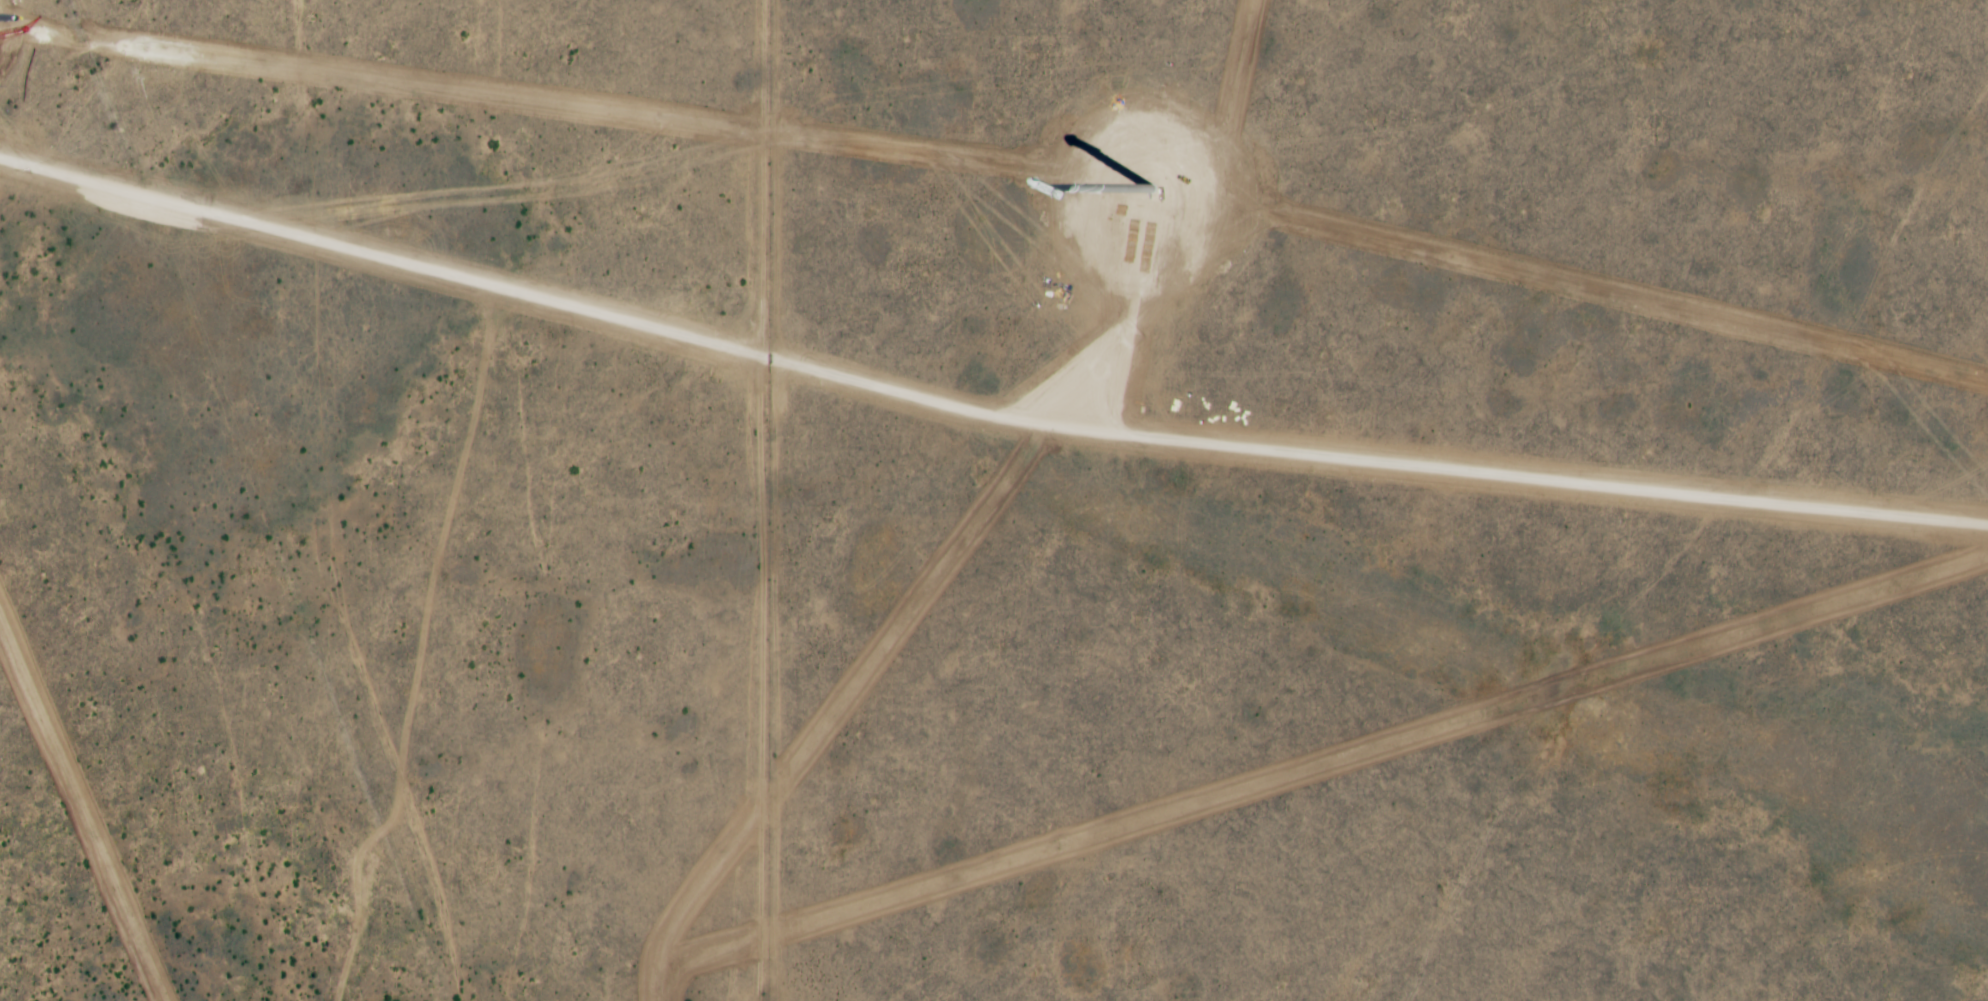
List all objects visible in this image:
wind turbine: (1138, 190)

